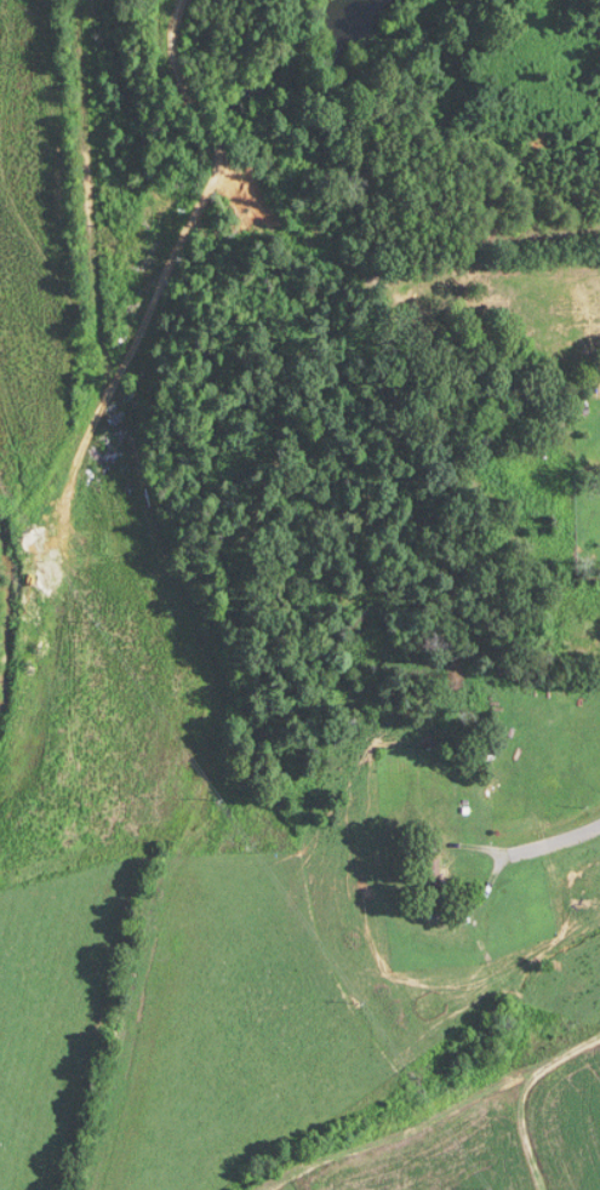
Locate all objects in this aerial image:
building: (576, 739)
road: (549, 833)
building: (433, 886)

